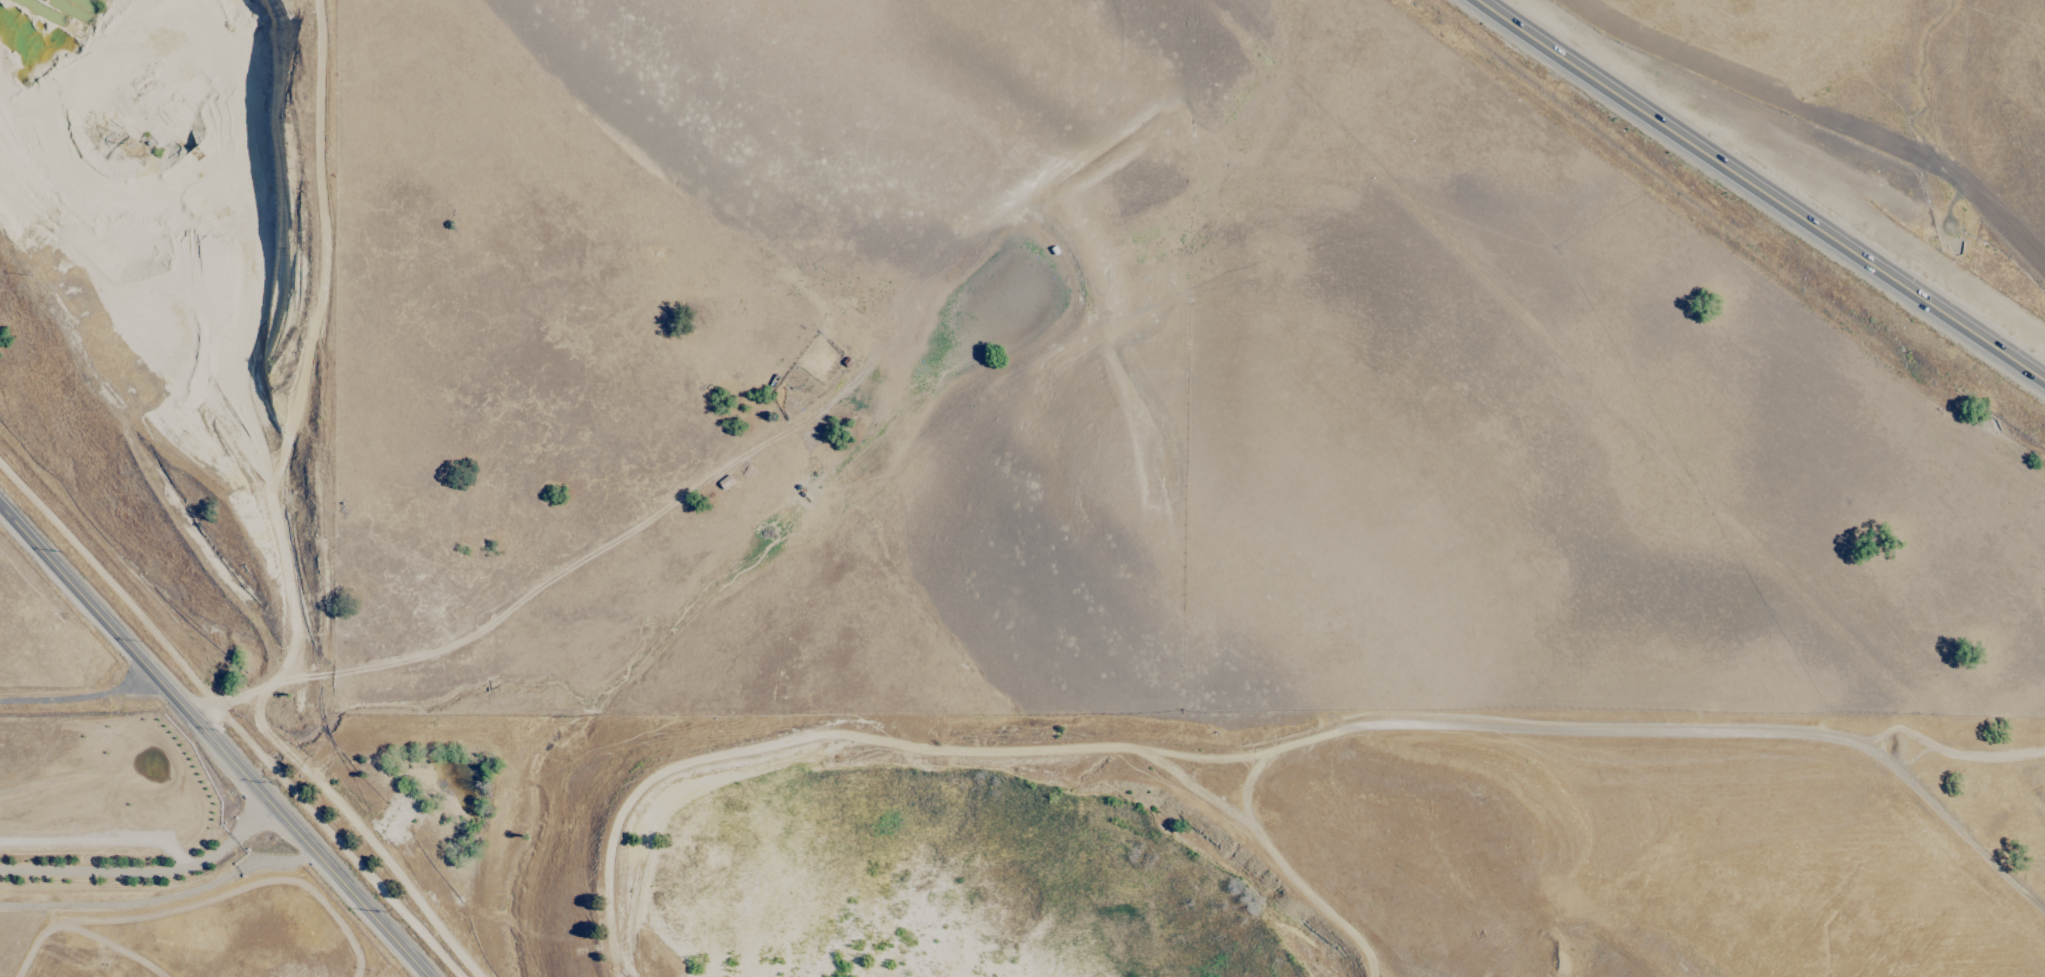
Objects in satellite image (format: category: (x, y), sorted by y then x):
quarry: (141, 186)
road: (1759, 191)
road: (298, 391)
crop: (1226, 403)
road: (77, 696)
road: (213, 746)
road: (147, 872)
road: (160, 897)

